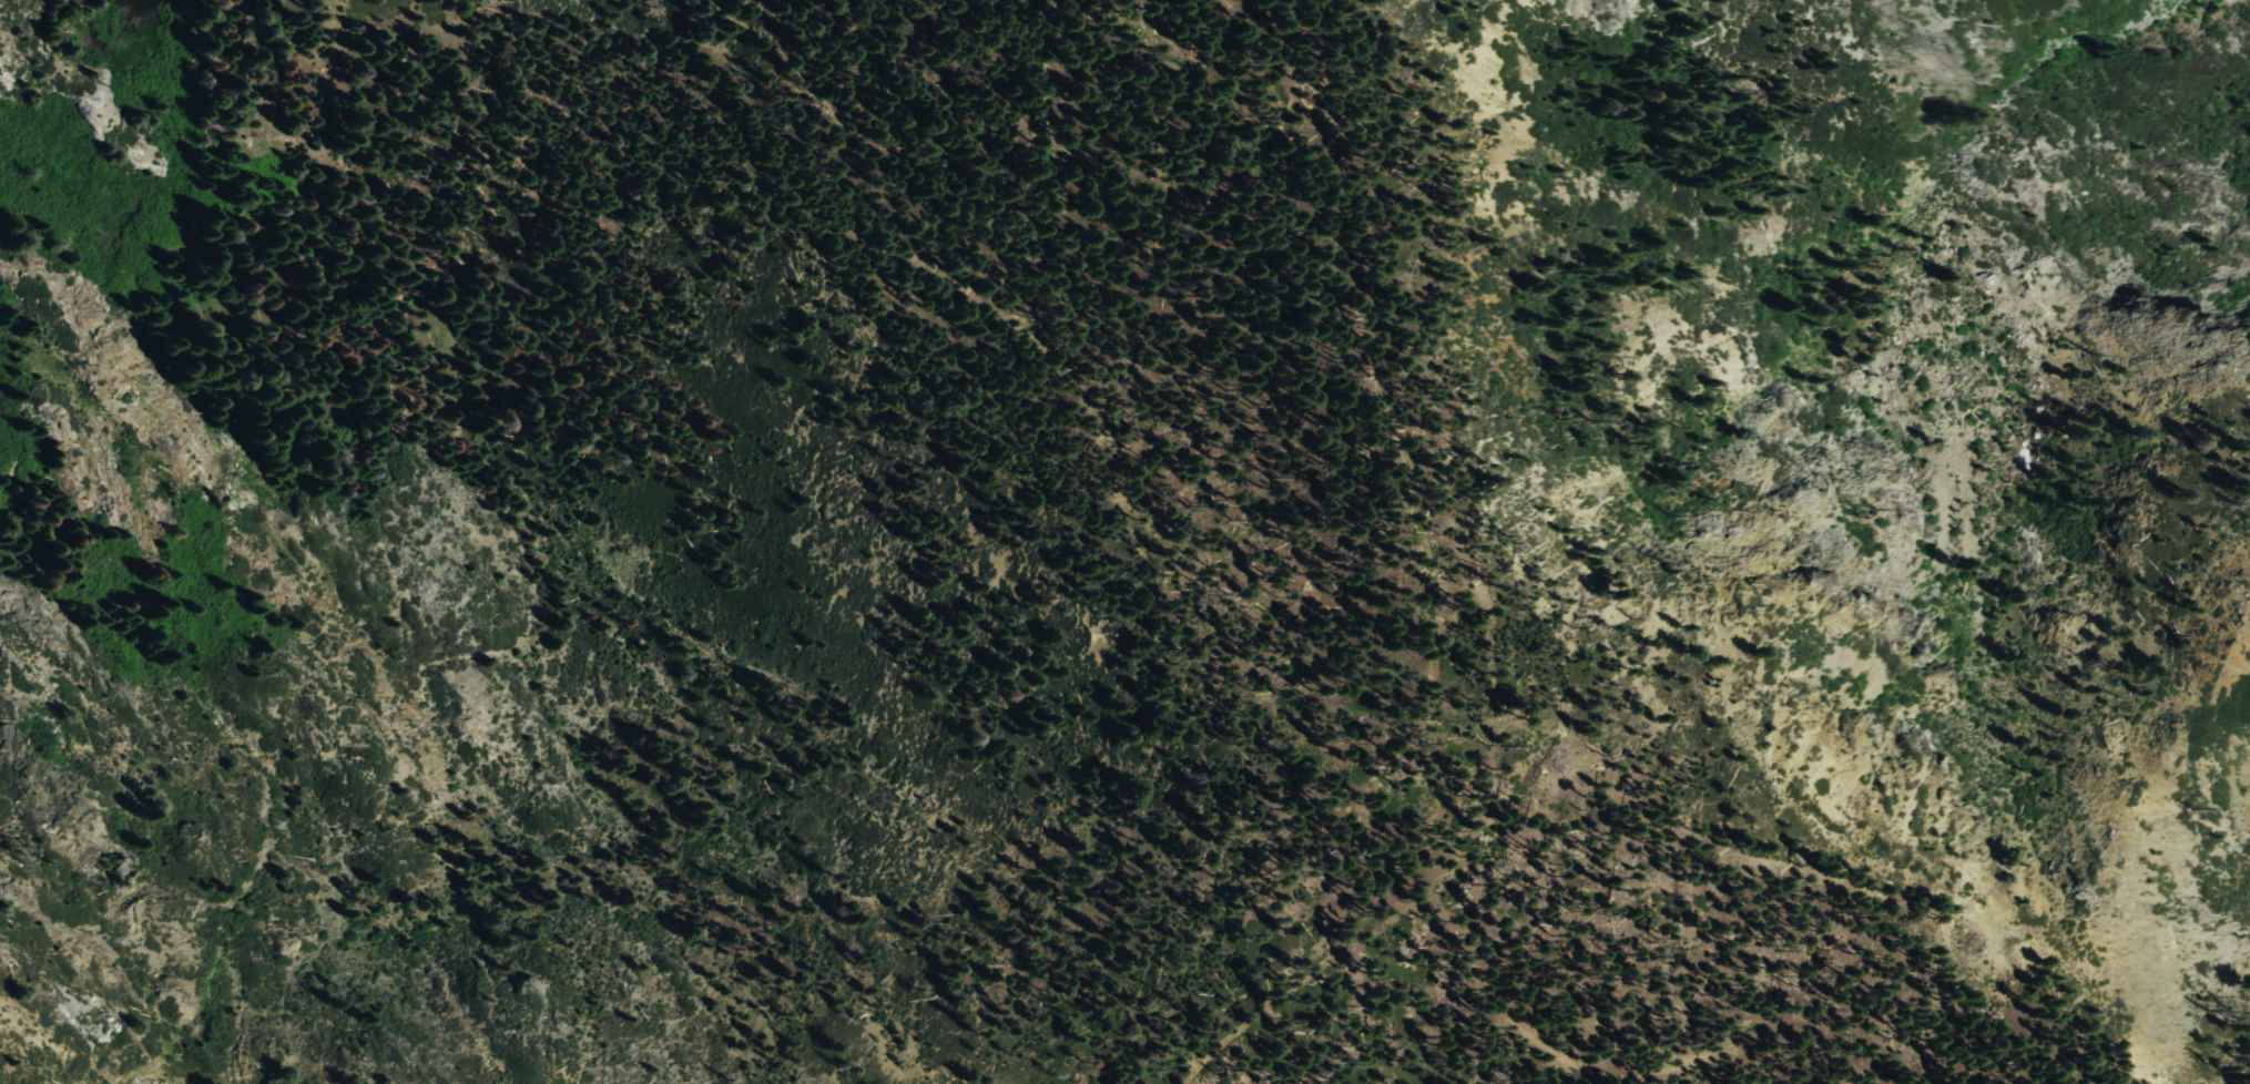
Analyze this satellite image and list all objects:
road: (1108, 177)
road: (1091, 431)
road: (1423, 431)
road: (1491, 921)
road: (674, 953)
road: (1874, 1083)

